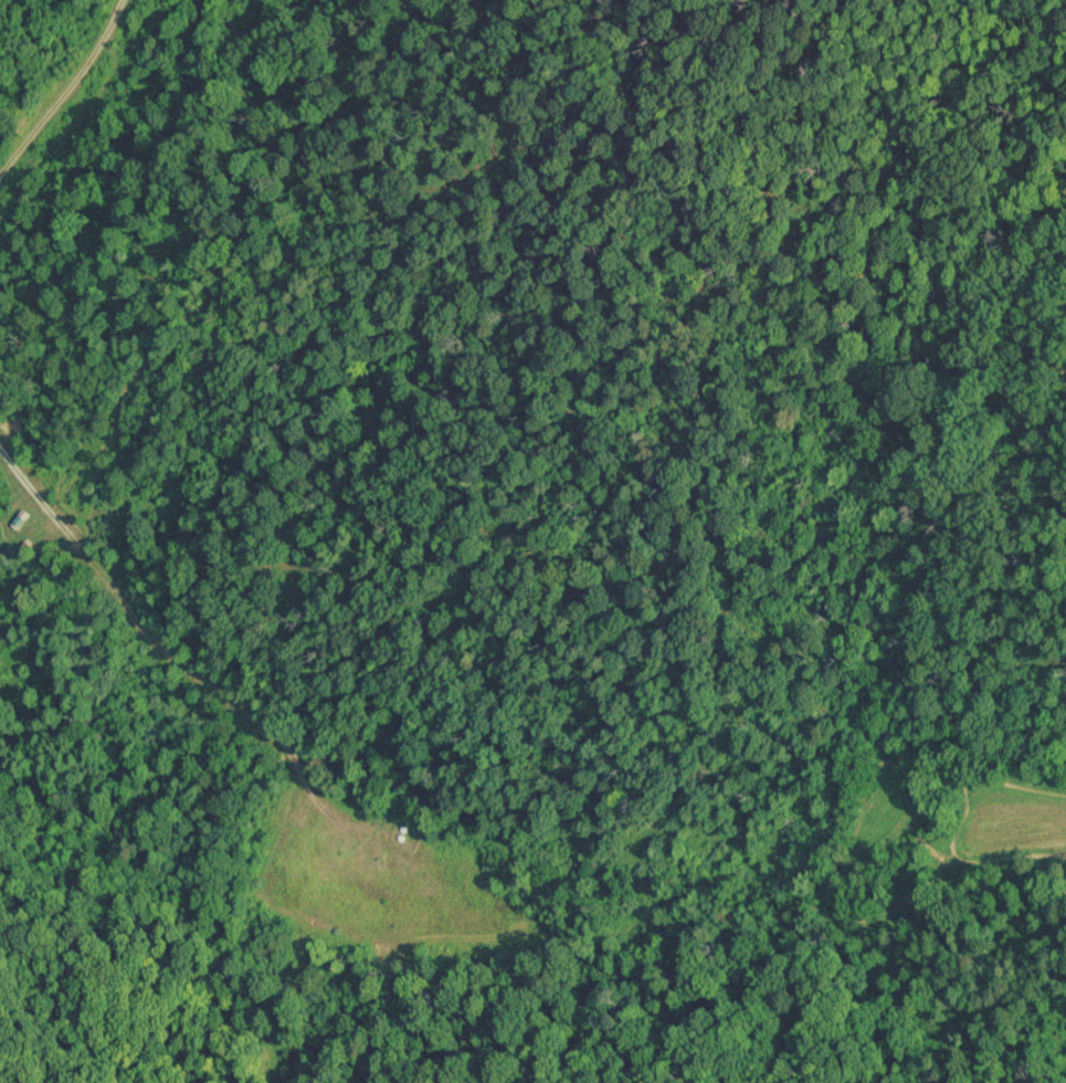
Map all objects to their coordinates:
road: (65, 88)
road: (71, 536)

